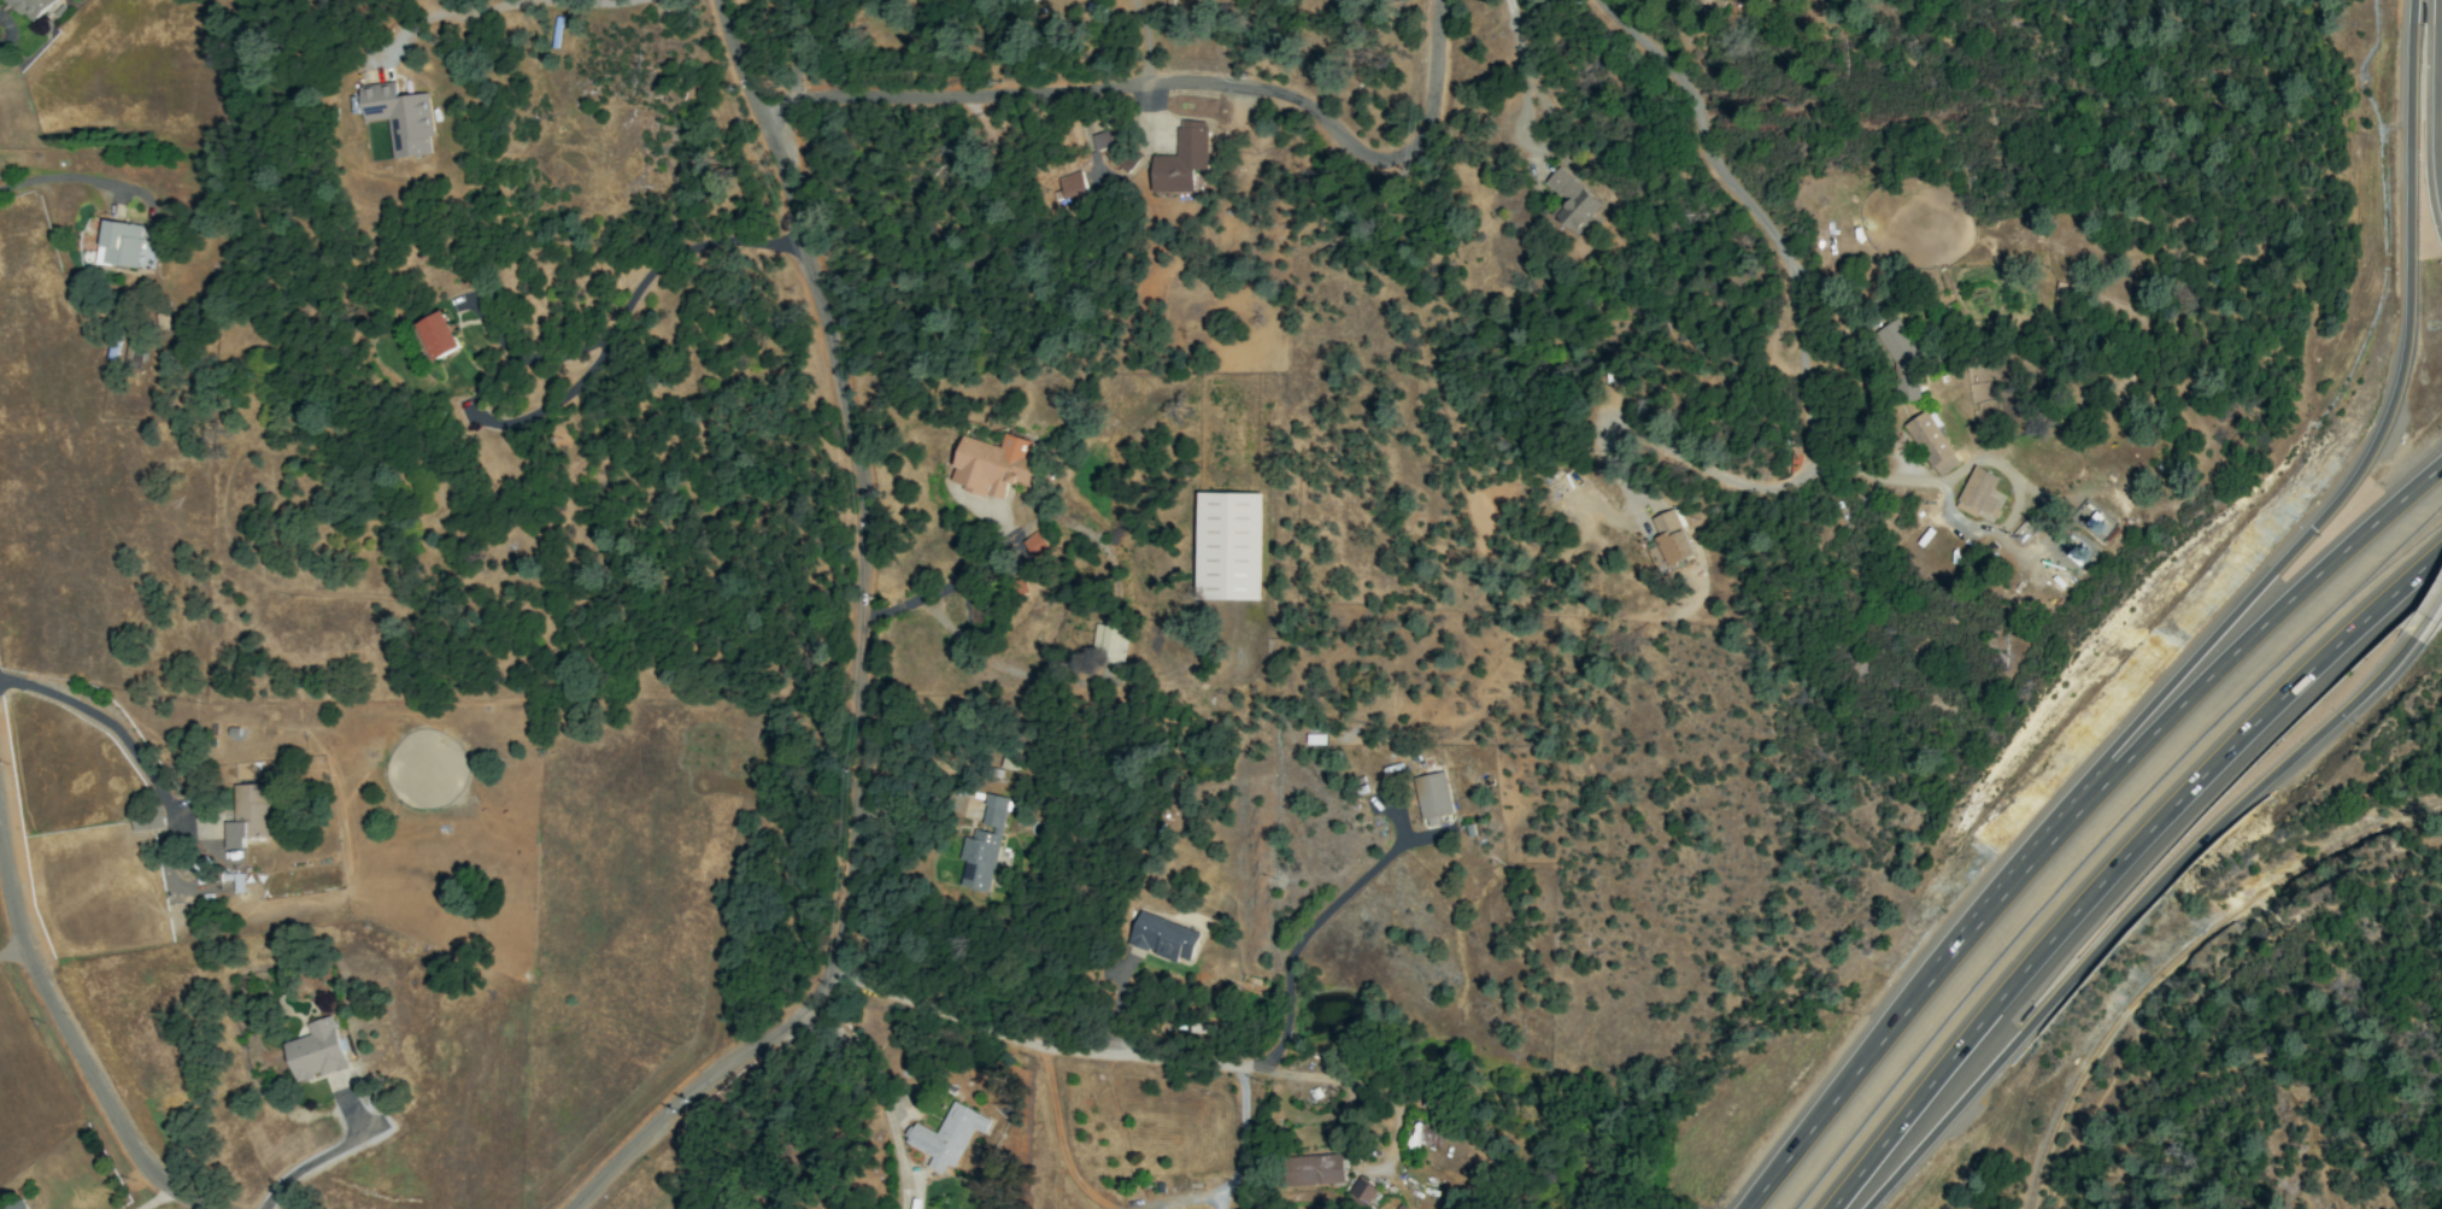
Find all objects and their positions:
building: (1708, 2)
road: (495, 6)
building: (31, 7)
road: (7, 30)
road: (1146, 41)
road: (796, 53)
road: (1520, 60)
road: (1179, 84)
road: (2436, 102)
building: (399, 117)
building: (1102, 140)
building: (1180, 159)
road: (61, 177)
building: (1070, 184)
building: (1571, 200)
road: (1753, 215)
building: (118, 243)
road: (498, 327)
building: (436, 335)
building: (131, 352)
building: (1898, 354)
road: (579, 386)
building: (1931, 444)
road: (1661, 446)
road: (2368, 451)
building: (994, 464)
building: (1978, 493)
road: (1967, 523)
building: (1667, 540)
building: (1035, 545)
building: (1228, 546)
road: (968, 564)
road: (2429, 621)
building: (1108, 645)
road: (974, 651)
road: (862, 652)
road: (111, 727)
building: (1432, 794)
road: (2067, 814)
building: (247, 815)
building: (147, 821)
building: (982, 846)
park: (2312, 857)
road: (2124, 862)
road: (2126, 915)
building: (1162, 938)
road: (1301, 939)
railway: (2176, 946)
road: (14, 963)
road: (69, 1045)
road: (1039, 1047)
building: (315, 1052)
road: (871, 1074)
building: (946, 1137)
building: (1421, 1137)
road: (319, 1158)
building: (1315, 1169)
building: (1362, 1191)
road: (157, 1197)
building: (14, 1205)

